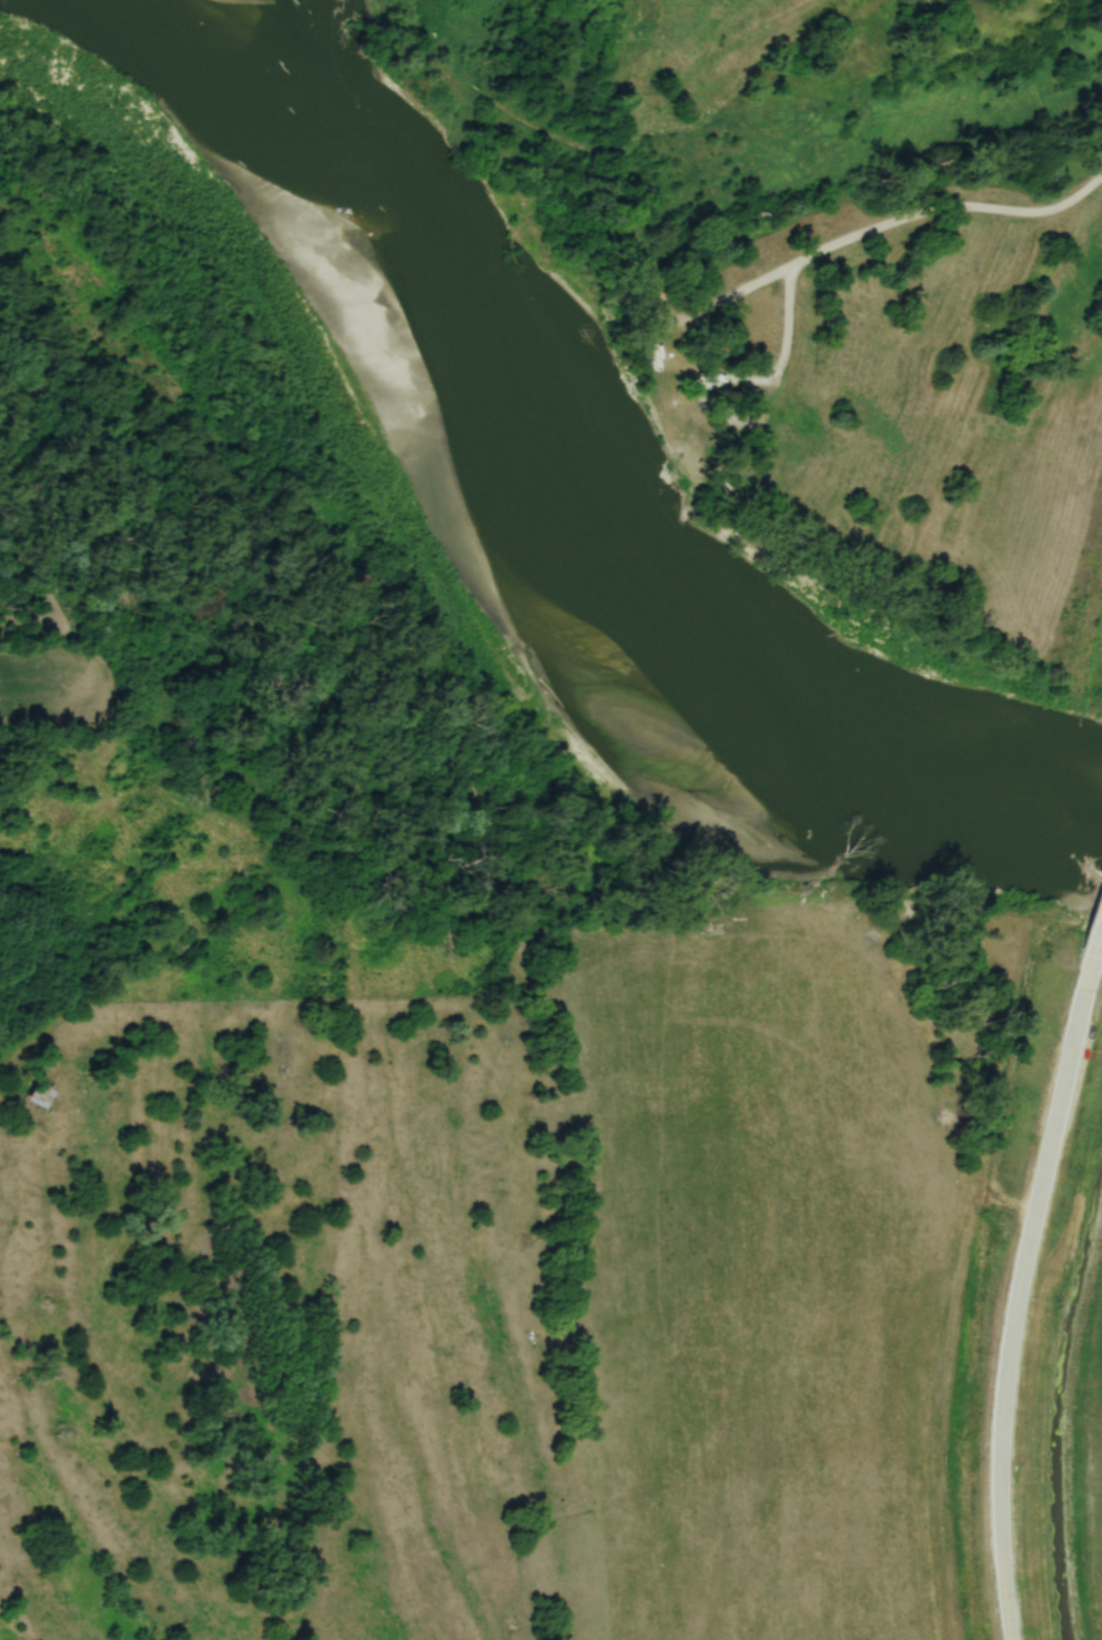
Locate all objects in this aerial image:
road: (947, 205)
road: (704, 373)
river: (520, 529)
road: (1100, 902)
building: (32, 1096)
road: (1020, 1273)

